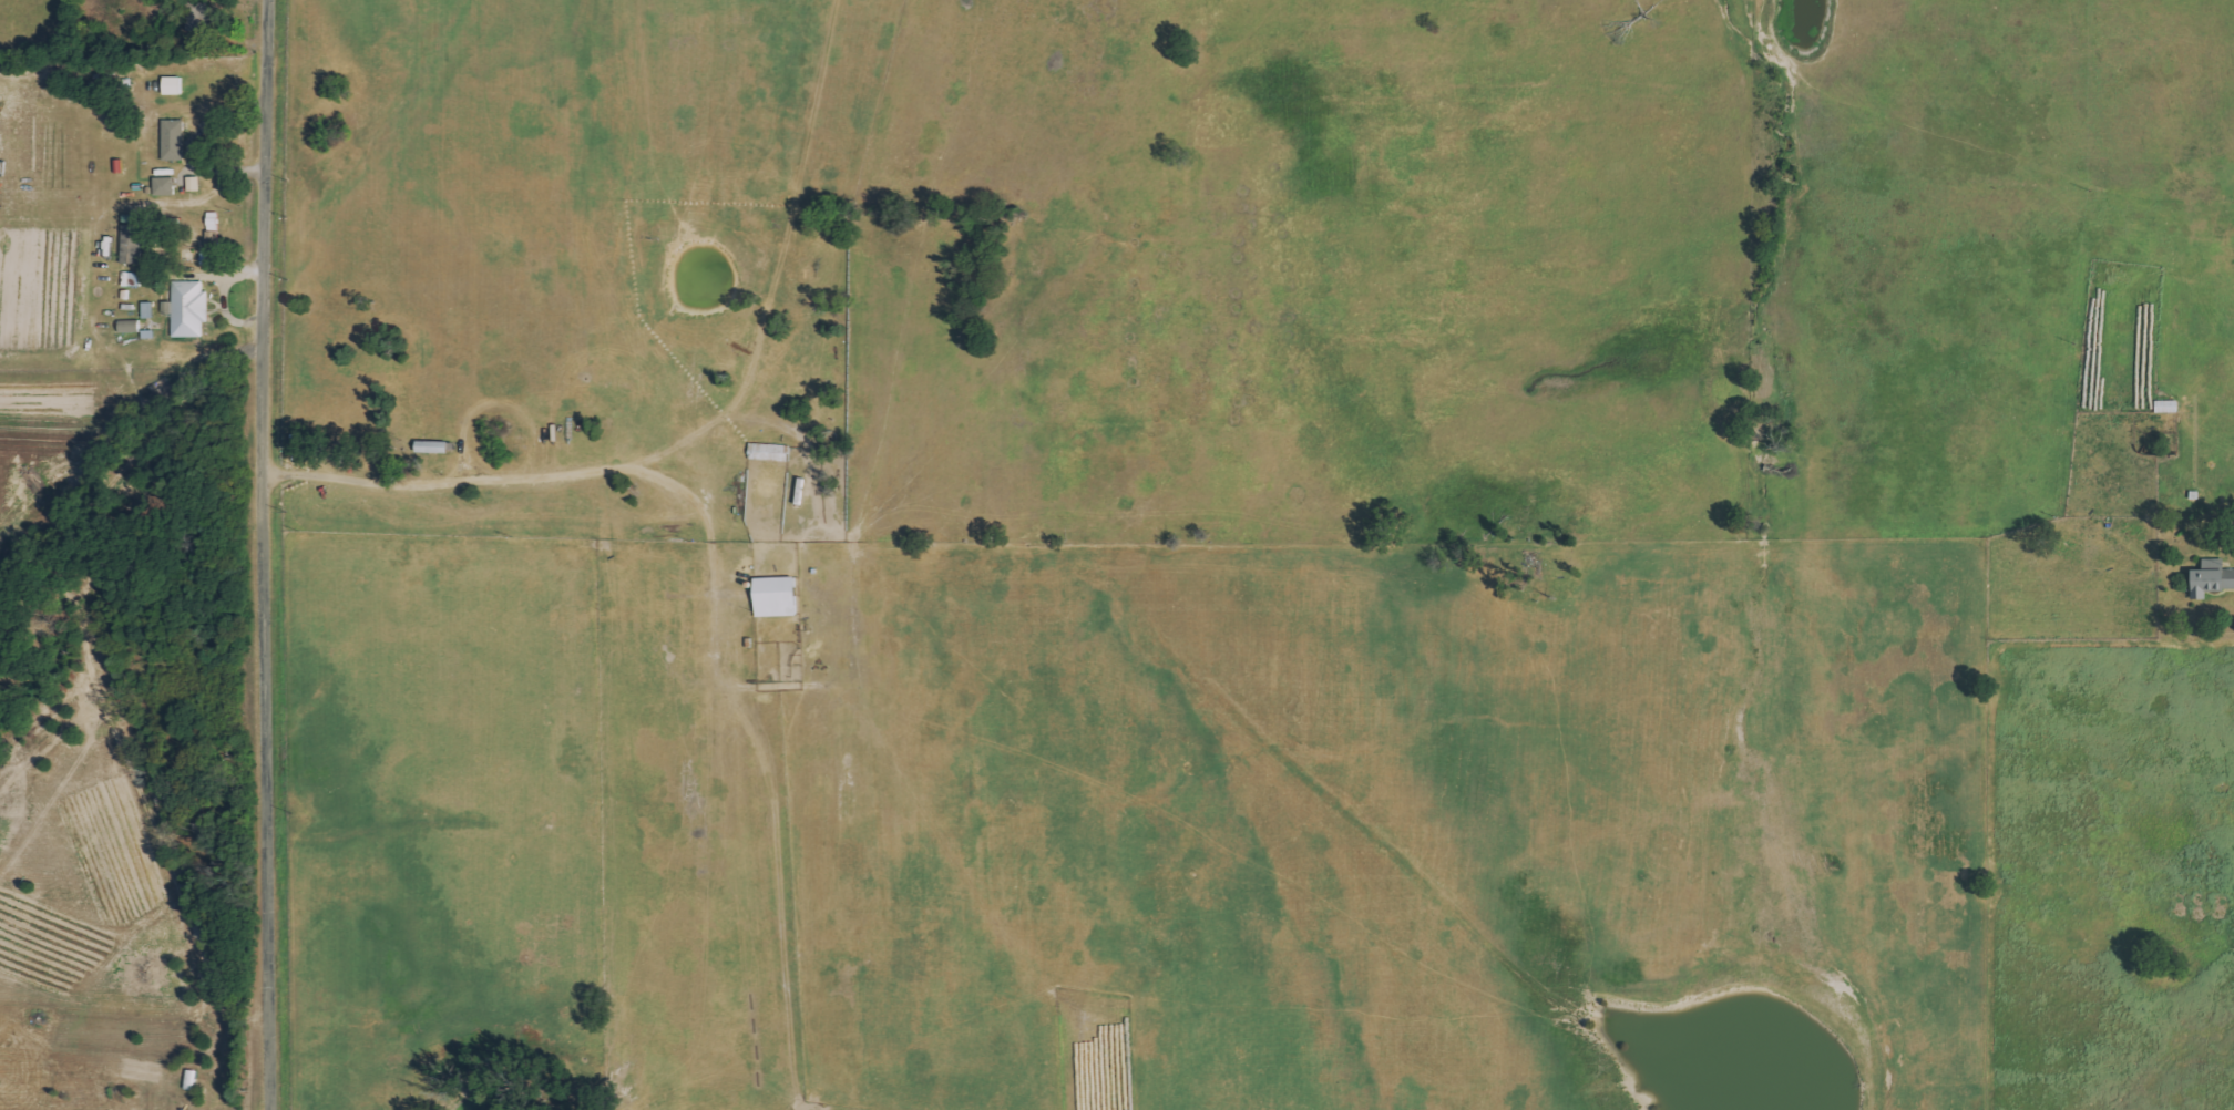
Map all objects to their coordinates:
building: (175, 85)
building: (175, 140)
building: (166, 185)
building: (132, 279)
building: (189, 308)
building: (150, 309)
road: (471, 493)
road: (270, 554)
building: (2212, 578)
building: (778, 596)
road: (1969, 934)

